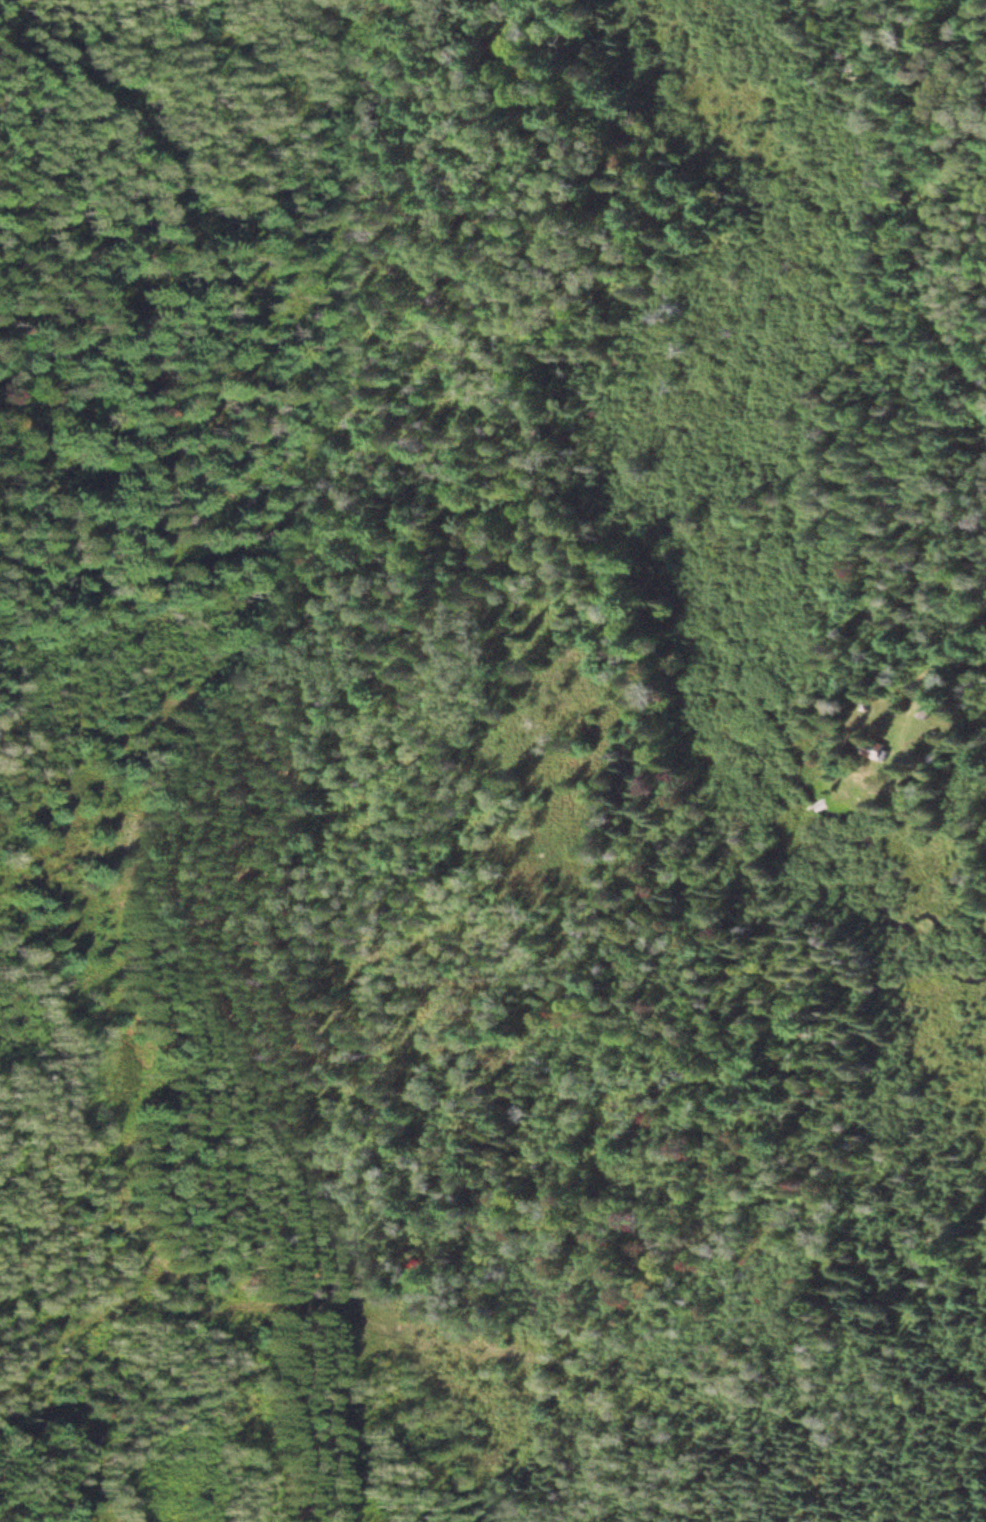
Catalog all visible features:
building: (876, 750)

